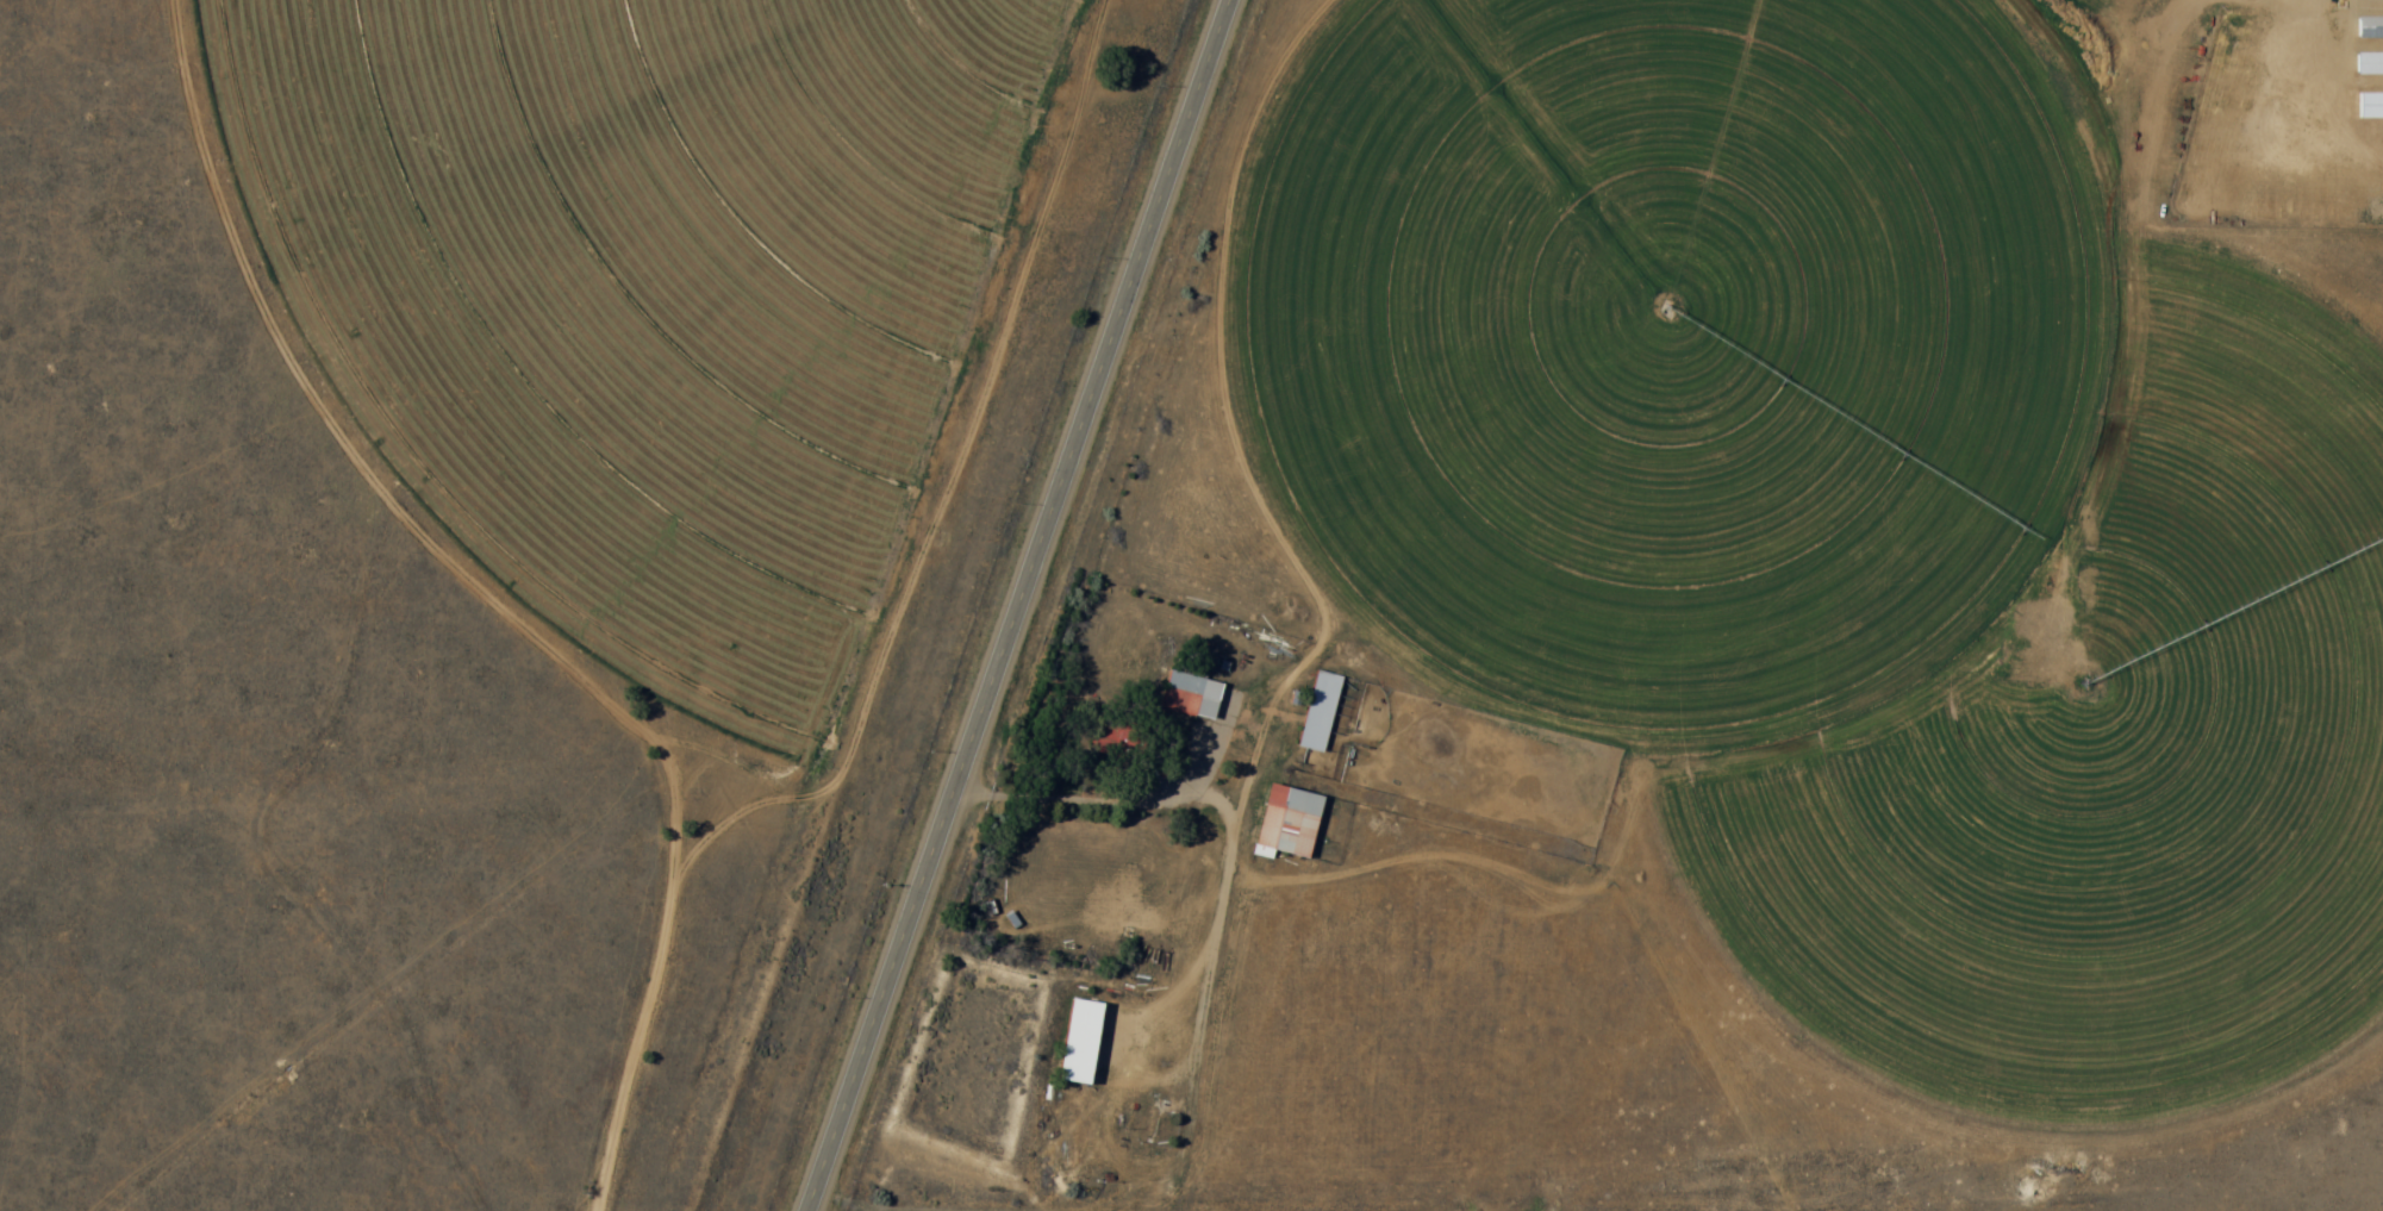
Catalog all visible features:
building: (2369, 29)
building: (2369, 64)
crop: (635, 292)
crop: (1664, 342)
road: (1015, 605)
crop: (2046, 675)
building: (1190, 691)
building: (1318, 713)
building: (1285, 824)
building: (1077, 1043)

